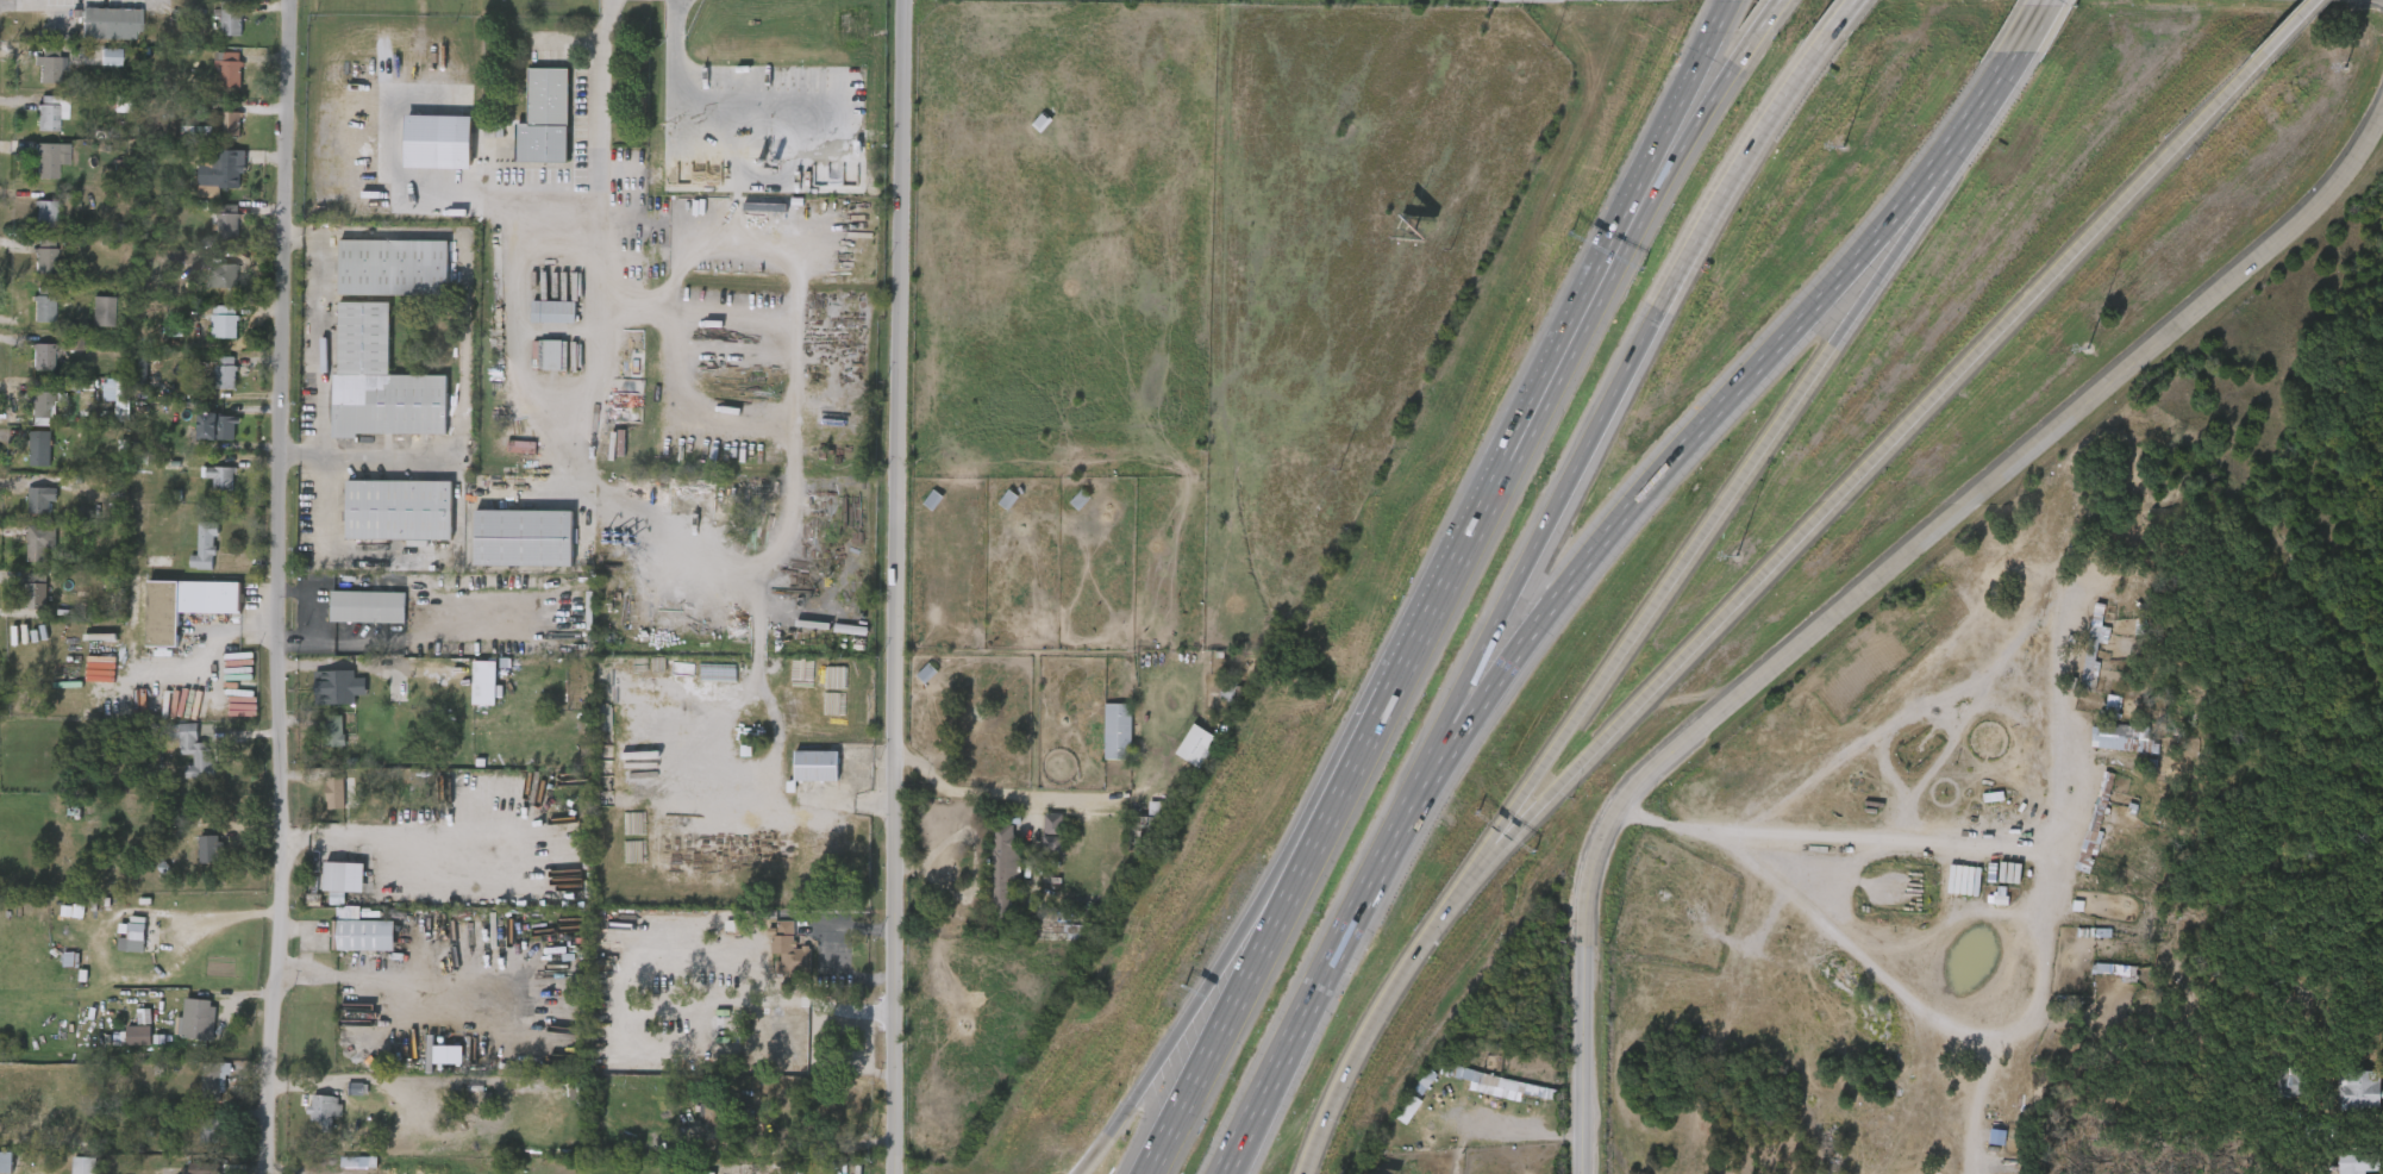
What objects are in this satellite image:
road: (1844, 15)
building: (231, 18)
road: (1715, 24)
road: (2040, 24)
building: (107, 25)
road: (2294, 26)
building: (215, 30)
road: (1755, 35)
building: (110, 57)
building: (94, 68)
building: (48, 70)
building: (230, 73)
building: (36, 81)
building: (214, 81)
road: (2003, 87)
road: (600, 107)
road: (718, 107)
building: (50, 113)
building: (544, 118)
building: (36, 123)
building: (1042, 123)
building: (229, 125)
building: (214, 135)
building: (423, 152)
building: (46, 160)
building: (33, 169)
building: (225, 175)
building: (475, 176)
road: (1928, 202)
building: (44, 210)
building: (30, 219)
building: (227, 226)
building: (213, 232)
building: (45, 260)
building: (30, 268)
building: (392, 268)
building: (223, 275)
building: (206, 287)
road: (1576, 300)
road: (1659, 301)
building: (43, 305)
building: (101, 311)
building: (551, 312)
road: (1594, 312)
building: (29, 316)
building: (87, 323)
building: (538, 323)
building: (223, 326)
building: (208, 332)
road: (325, 343)
road: (462, 344)
road: (674, 346)
building: (42, 356)
road: (1759, 363)
building: (536, 366)
building: (27, 368)
building: (225, 373)
road: (527, 376)
building: (379, 381)
building: (211, 385)
building: (40, 400)
building: (25, 419)
road: (1904, 424)
building: (215, 425)
building: (201, 437)
building: (39, 449)
road: (794, 451)
building: (24, 458)
building: (220, 477)
building: (206, 488)
building: (42, 495)
building: (1080, 500)
building: (932, 501)
building: (1008, 501)
building: (25, 506)
building: (398, 511)
road: (1702, 530)
building: (524, 538)
building: (40, 542)
building: (205, 547)
building: (25, 552)
road: (340, 552)
building: (189, 558)
road: (895, 561)
road: (1451, 573)
road: (1864, 582)
road: (264, 587)
building: (36, 591)
building: (20, 601)
building: (180, 606)
building: (365, 607)
road: (218, 631)
building: (2083, 666)
building: (926, 674)
building: (436, 685)
building: (333, 687)
building: (396, 688)
building: (469, 693)
building: (1234, 695)
road: (1452, 705)
road: (2004, 705)
road: (1472, 714)
building: (2096, 714)
building: (1118, 732)
building: (336, 733)
building: (402, 733)
building: (2115, 736)
building: (1101, 742)
building: (323, 743)
building: (1196, 748)
building: (2107, 749)
building: (195, 751)
building: (1181, 756)
building: (180, 762)
building: (817, 766)
building: (800, 776)
road: (1321, 782)
road: (996, 792)
building: (337, 793)
building: (319, 803)
road: (857, 803)
road: (1512, 812)
road: (1519, 819)
building: (2096, 820)
building: (2078, 832)
building: (1144, 833)
building: (1037, 842)
road: (344, 848)
building: (209, 849)
building: (194, 860)
building: (1002, 874)
building: (987, 881)
road: (1295, 882)
building: (320, 892)
road: (2050, 914)
road: (108, 930)
building: (137, 935)
building: (363, 935)
building: (1059, 942)
building: (346, 945)
building: (118, 949)
building: (789, 956)
building: (2102, 967)
road: (369, 974)
road: (1312, 999)
road: (1381, 999)
building: (198, 1022)
building: (182, 1029)
building: (792, 1042)
building: (123, 1045)
building: (774, 1045)
building: (432, 1066)
road: (1144, 1078)
building: (2294, 1079)
building: (214, 1081)
building: (2360, 1087)
building: (199, 1091)
building: (394, 1098)
building: (2343, 1101)
road: (1981, 1106)
building: (321, 1110)
building: (308, 1119)
building: (695, 1123)
building: (209, 1131)
building: (195, 1138)
road: (893, 1149)
building: (6, 1162)
building: (2360, 1162)
building: (83, 1166)
building: (68, 1170)
building: (179, 1173)

